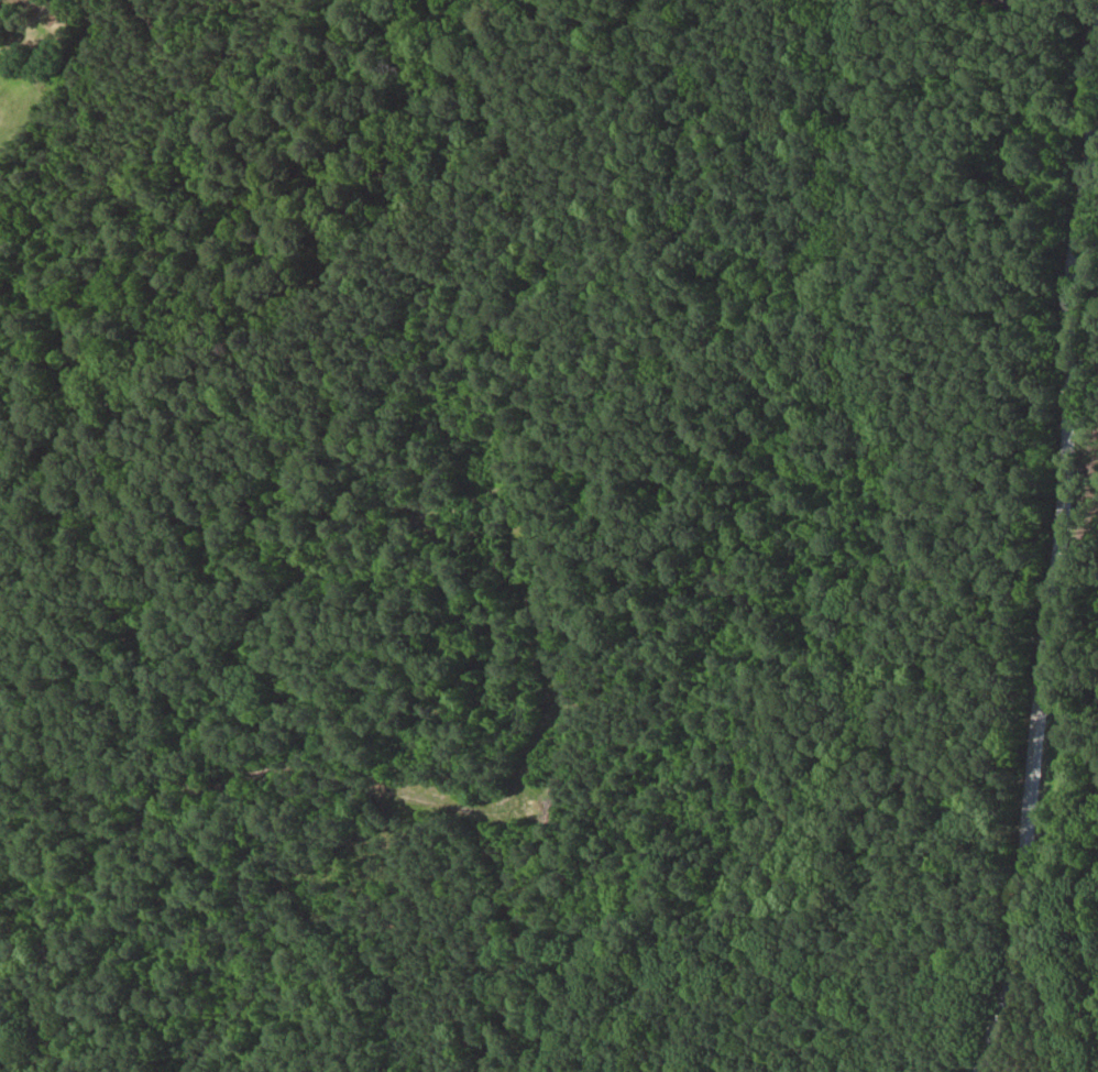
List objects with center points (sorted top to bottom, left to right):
road: (810, 58)
road: (853, 91)
road: (1089, 111)
road: (339, 275)
road: (326, 451)
road: (685, 547)
road: (1047, 622)

